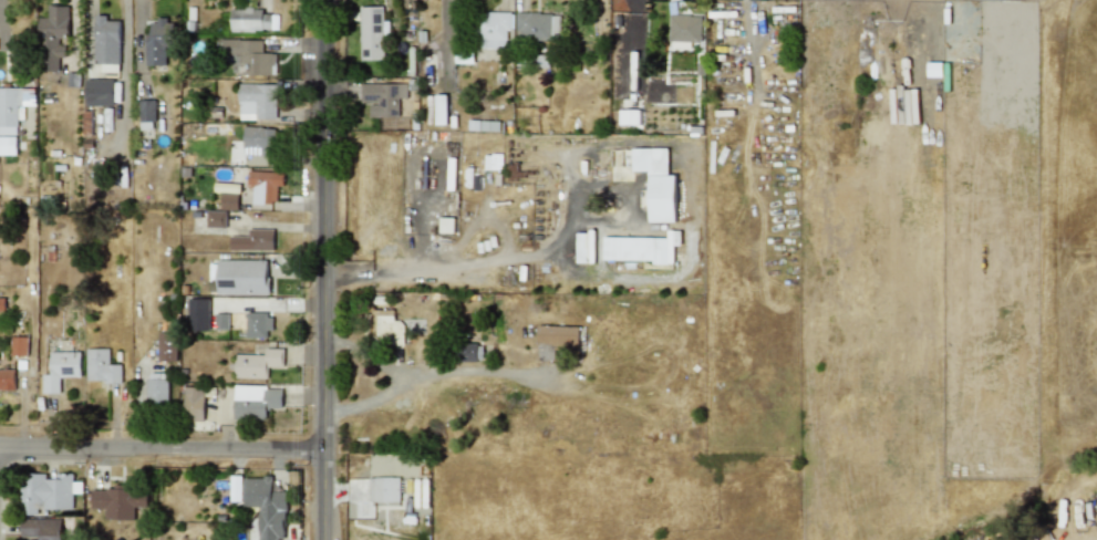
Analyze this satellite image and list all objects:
road: (125, 10)
building: (249, 19)
building: (537, 25)
building: (684, 27)
building: (490, 29)
building: (372, 32)
building: (53, 37)
building: (156, 43)
building: (244, 55)
road: (125, 83)
building: (99, 92)
building: (382, 97)
building: (256, 101)
building: (11, 107)
building: (441, 108)
building: (146, 114)
building: (629, 116)
building: (257, 141)
building: (8, 145)
building: (656, 181)
building: (263, 185)
building: (228, 200)
building: (208, 218)
building: (445, 225)
building: (252, 239)
building: (584, 247)
building: (640, 248)
road: (437, 268)
road: (322, 270)
building: (241, 277)
building: (197, 313)
building: (220, 321)
building: (257, 324)
building: (385, 325)
building: (555, 340)
building: (18, 345)
building: (166, 346)
building: (470, 352)
building: (257, 363)
building: (100, 365)
building: (60, 370)
road: (397, 375)
building: (7, 378)
building: (156, 388)
building: (255, 401)
building: (193, 403)
road: (161, 447)
building: (383, 488)
building: (45, 491)
building: (118, 500)
building: (266, 506)
building: (40, 529)

